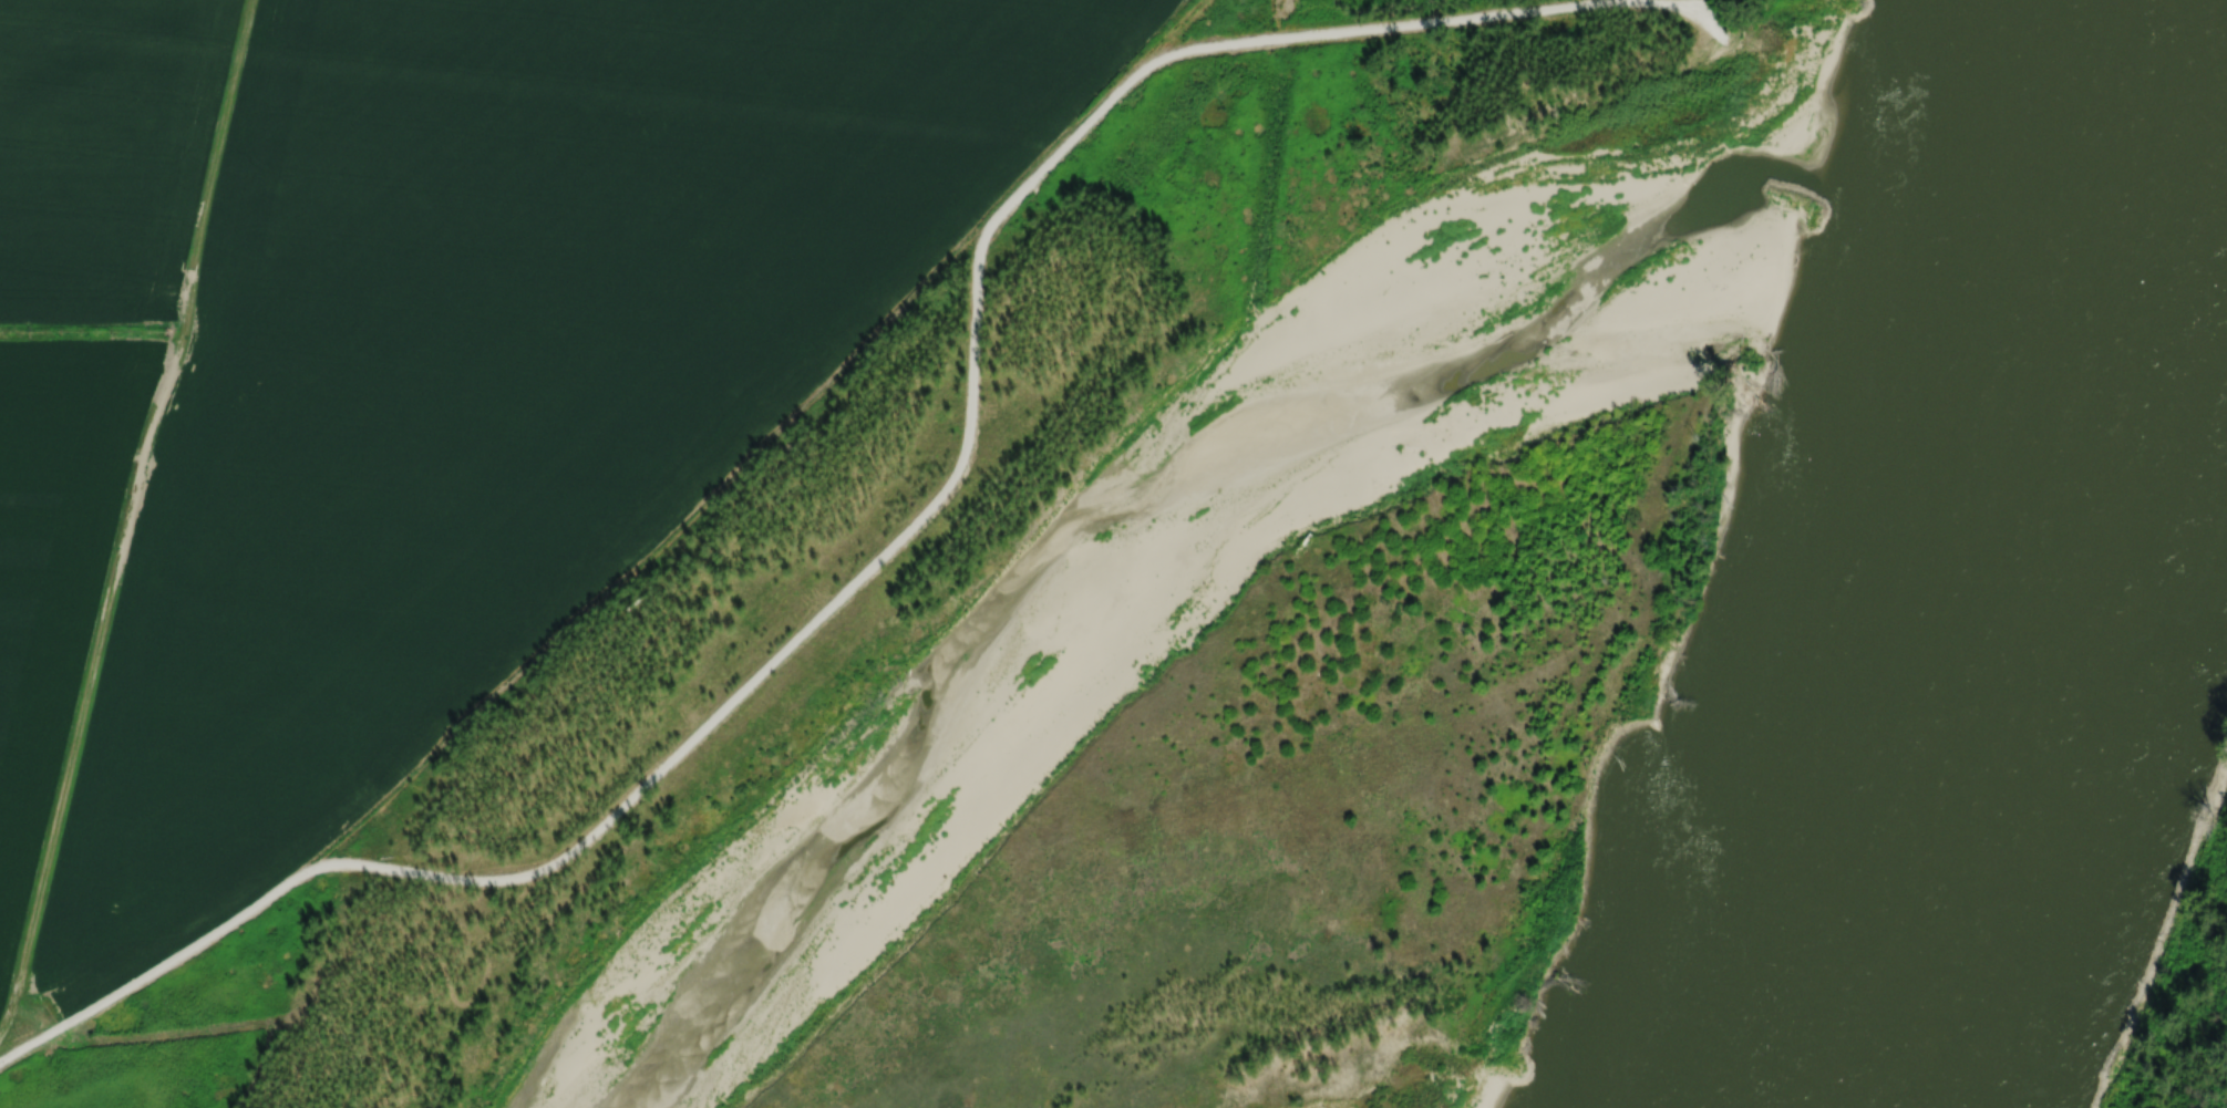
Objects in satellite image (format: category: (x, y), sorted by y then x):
road: (769, 439)
river: (2020, 571)

